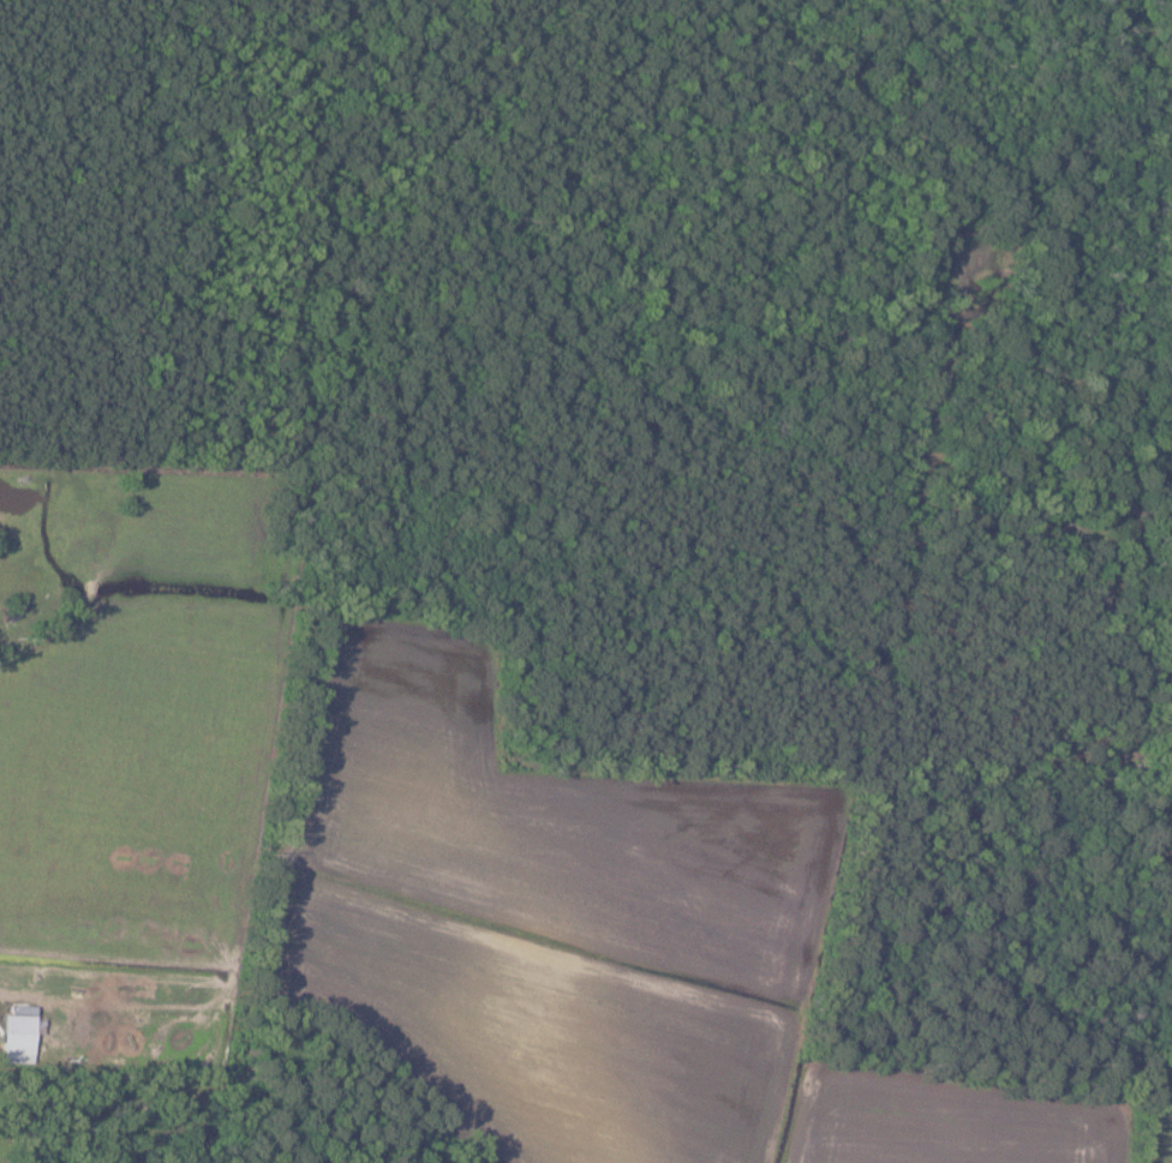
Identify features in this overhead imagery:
building: (18, 1035)

